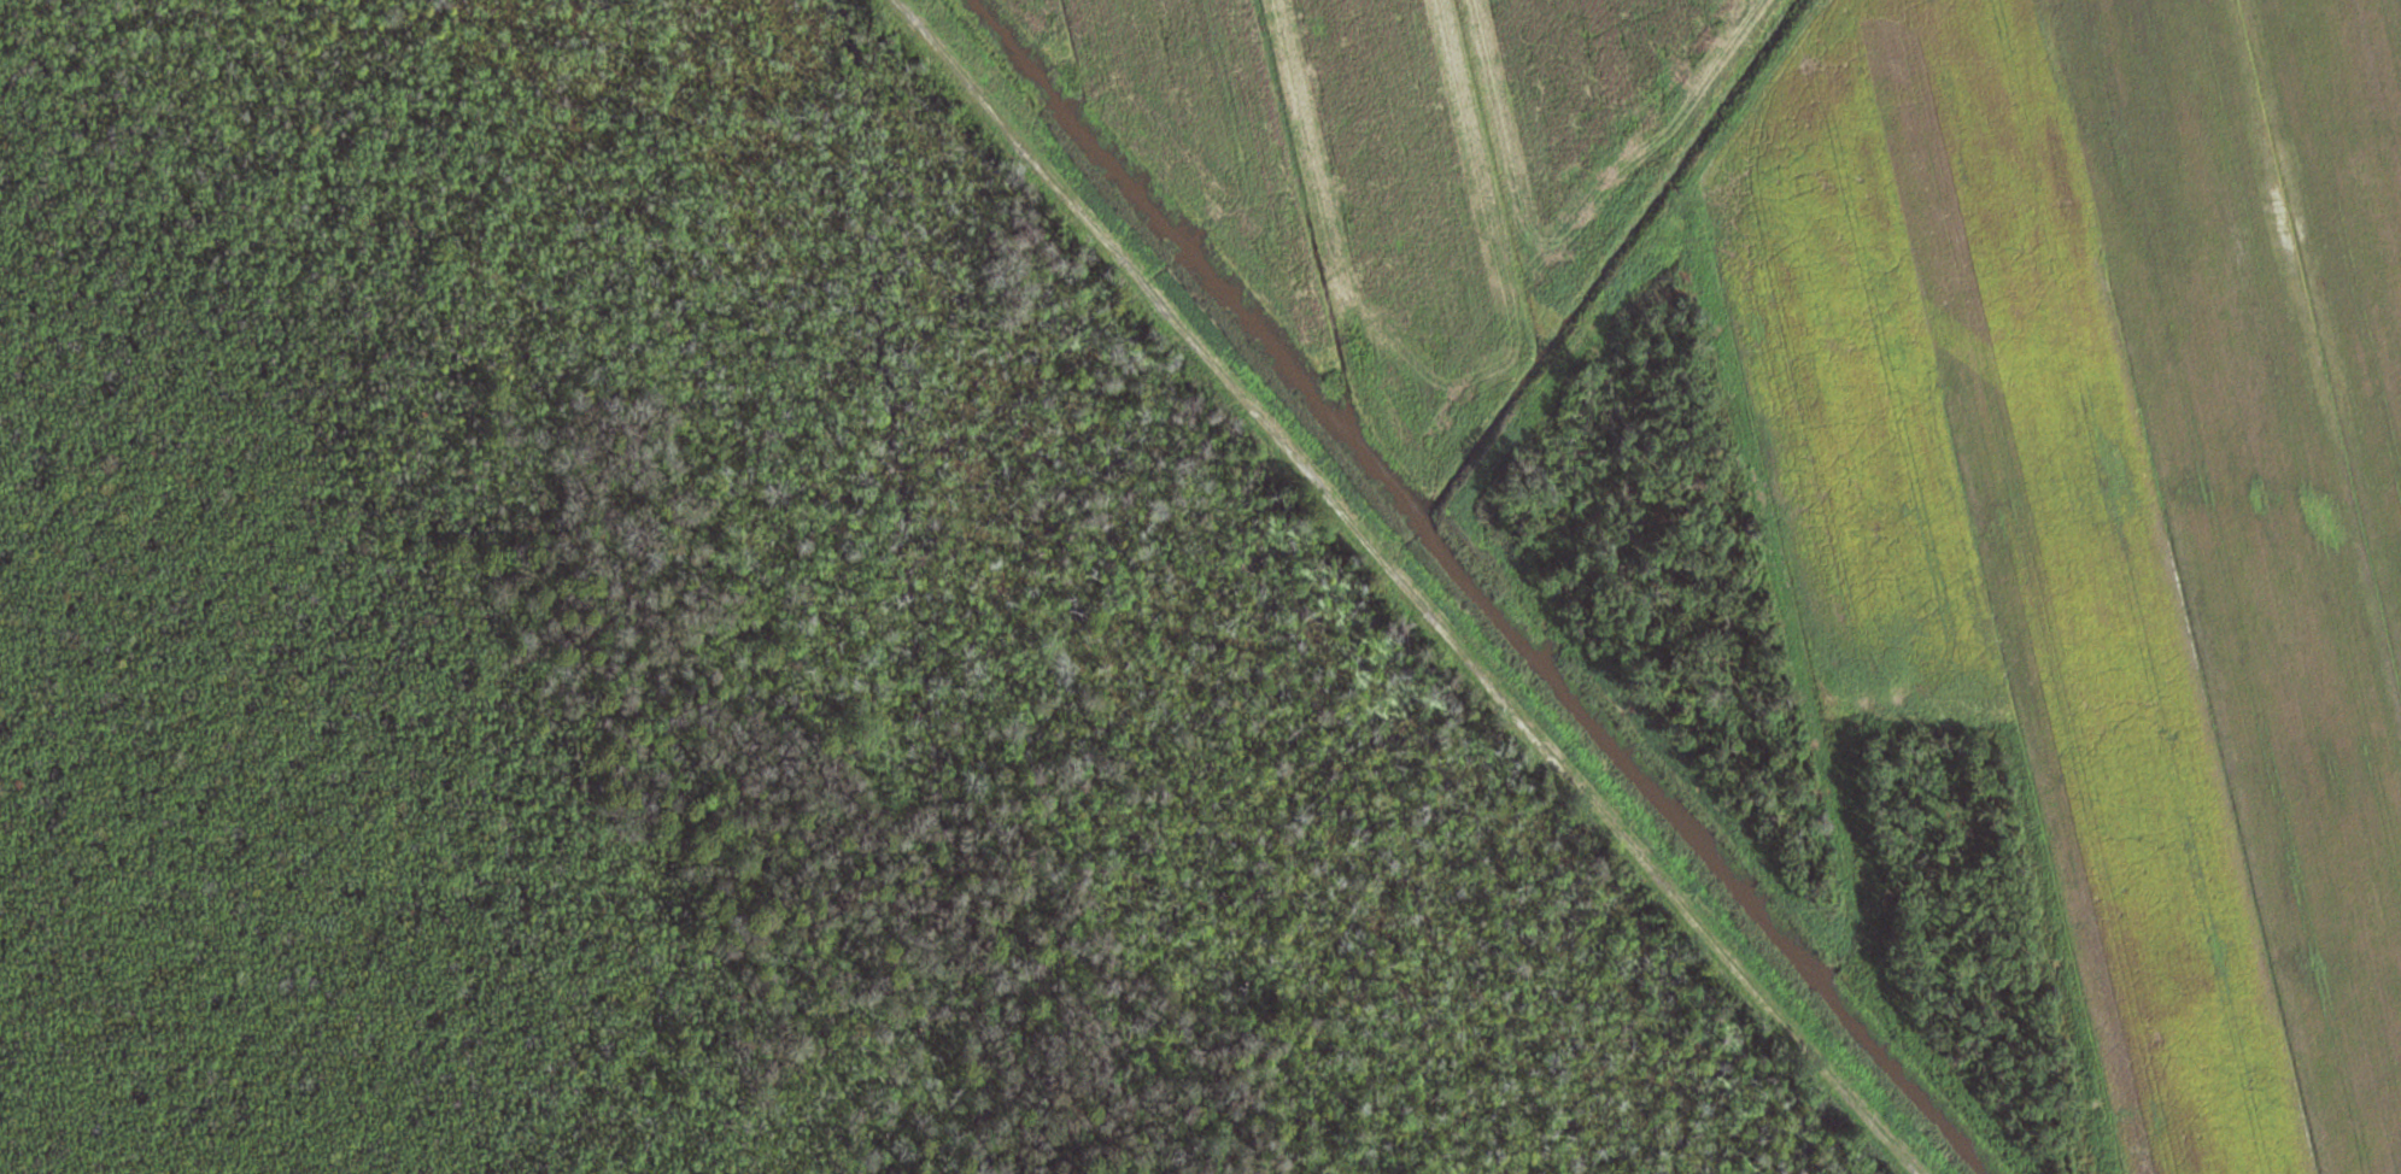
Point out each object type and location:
crop: (2119, 499)
road: (1400, 587)

